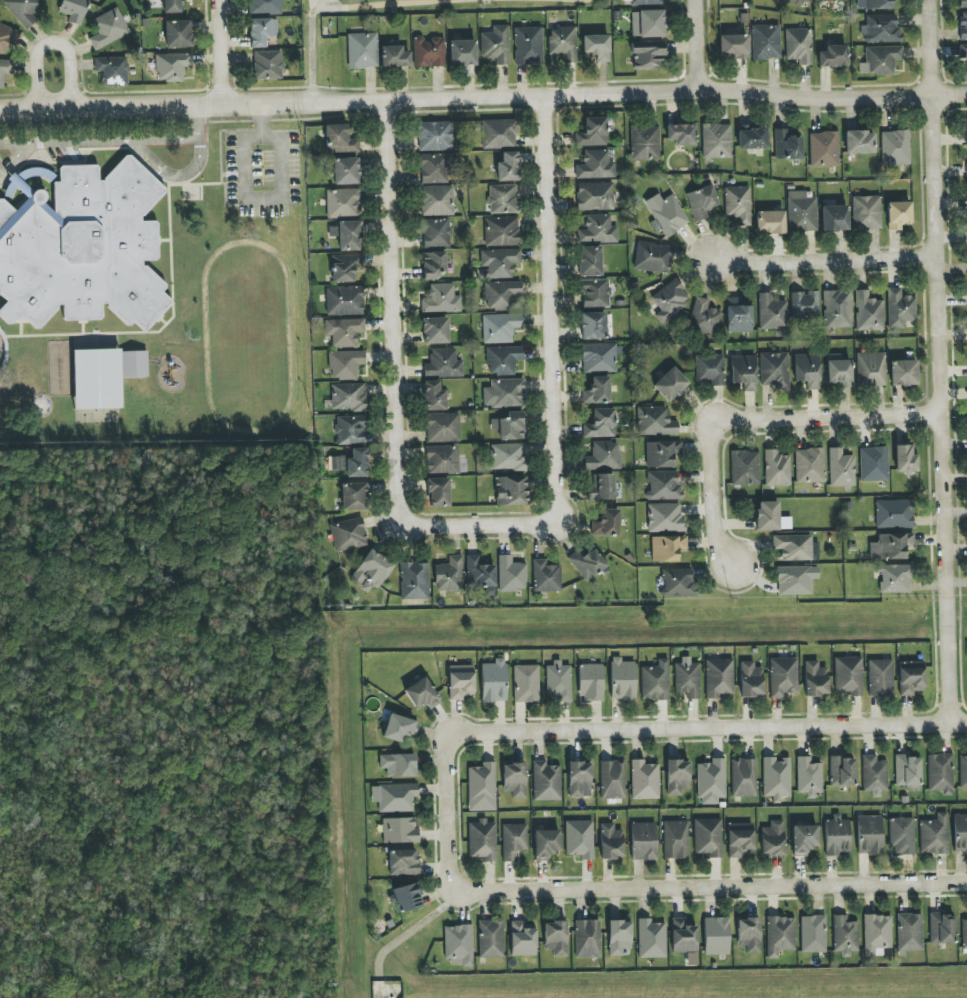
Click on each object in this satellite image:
road: (576, 0)
building: (646, 2)
building: (796, 2)
road: (405, 3)
building: (878, 4)
building: (962, 4)
building: (171, 6)
building: (265, 6)
road: (328, 8)
building: (23, 10)
building: (73, 10)
building: (648, 24)
building: (963, 25)
building: (109, 29)
building: (881, 29)
building: (261, 31)
building: (178, 34)
building: (8, 37)
road: (48, 41)
building: (766, 42)
building: (563, 43)
building: (496, 45)
road: (695, 45)
building: (528, 46)
building: (733, 46)
building: (798, 46)
building: (597, 47)
road: (218, 50)
building: (362, 50)
building: (428, 52)
building: (963, 52)
building: (462, 53)
building: (647, 56)
building: (833, 56)
building: (394, 57)
building: (882, 60)
building: (267, 65)
building: (172, 66)
building: (5, 70)
building: (112, 71)
road: (483, 97)
building: (966, 131)
building: (592, 132)
building: (498, 134)
building: (681, 134)
building: (434, 136)
building: (752, 137)
building: (339, 140)
road: (100, 141)
building: (716, 141)
building: (859, 142)
building: (644, 143)
building: (787, 145)
building: (895, 148)
building: (824, 149)
road: (14, 159)
building: (595, 165)
building: (507, 167)
building: (435, 169)
building: (966, 170)
road: (192, 171)
building: (345, 171)
building: (966, 189)
building: (593, 196)
road: (242, 197)
building: (502, 199)
building: (436, 201)
building: (701, 202)
building: (343, 203)
building: (738, 204)
building: (801, 212)
building: (866, 213)
building: (666, 214)
building: (898, 215)
building: (834, 218)
building: (770, 222)
building: (597, 230)
building: (501, 231)
building: (436, 233)
building: (347, 235)
building: (81, 248)
building: (653, 257)
road: (824, 260)
building: (589, 261)
building: (500, 262)
building: (433, 265)
building: (345, 267)
building: (595, 293)
road: (391, 295)
building: (501, 295)
building: (441, 299)
building: (344, 301)
building: (668, 301)
building: (804, 304)
road: (551, 305)
building: (837, 309)
building: (900, 309)
building: (771, 312)
building: (868, 312)
building: (738, 316)
building: (703, 319)
building: (593, 326)
building: (500, 328)
building: (435, 331)
building: (344, 332)
building: (600, 357)
building: (503, 360)
road: (938, 362)
building: (133, 364)
building: (345, 364)
building: (443, 364)
building: (709, 369)
building: (871, 369)
building: (774, 370)
building: (807, 370)
building: (839, 371)
building: (744, 372)
building: (903, 373)
building: (96, 379)
building: (670, 384)
building: (597, 391)
building: (504, 393)
building: (433, 396)
building: (348, 397)
road: (856, 419)
building: (655, 422)
building: (600, 424)
building: (509, 426)
building: (443, 427)
building: (350, 430)
building: (662, 454)
building: (603, 456)
building: (508, 457)
building: (442, 460)
building: (905, 460)
building: (350, 464)
building: (874, 464)
building: (809, 466)
road: (710, 467)
building: (745, 468)
building: (776, 468)
building: (841, 468)
building: (663, 485)
building: (602, 487)
building: (510, 491)
building: (438, 493)
building: (354, 496)
building: (894, 514)
building: (767, 516)
building: (665, 517)
building: (606, 523)
road: (464, 527)
building: (348, 534)
building: (891, 546)
building: (793, 547)
building: (667, 548)
building: (587, 565)
building: (370, 572)
building: (511, 574)
building: (448, 575)
building: (480, 575)
building: (545, 577)
building: (895, 578)
building: (796, 580)
building: (414, 581)
building: (677, 582)
building: (783, 676)
building: (847, 676)
building: (718, 678)
building: (880, 678)
building: (622, 679)
building: (815, 679)
building: (911, 679)
building: (687, 680)
building: (751, 680)
building: (494, 681)
building: (655, 681)
building: (460, 682)
building: (557, 682)
building: (590, 682)
building: (526, 684)
building: (422, 694)
building: (399, 728)
road: (706, 729)
building: (398, 765)
building: (963, 771)
building: (842, 772)
building: (908, 772)
building: (940, 773)
building: (874, 774)
building: (808, 776)
building: (677, 777)
building: (743, 777)
building: (579, 778)
building: (612, 779)
building: (776, 779)
building: (514, 780)
building: (644, 780)
building: (546, 782)
building: (711, 782)
building: (481, 788)
building: (396, 798)
road: (450, 813)
building: (399, 830)
building: (960, 833)
building: (869, 835)
building: (933, 835)
building: (837, 836)
building: (902, 836)
building: (708, 837)
building: (579, 839)
building: (740, 839)
building: (773, 839)
building: (804, 839)
building: (482, 840)
building: (513, 840)
building: (676, 840)
building: (644, 841)
building: (611, 842)
building: (546, 844)
building: (403, 862)
road: (710, 889)
building: (406, 897)
building: (941, 929)
road: (410, 931)
building: (909, 933)
building: (749, 934)
building: (813, 934)
building: (876, 934)
building: (964, 934)
building: (780, 935)
building: (844, 935)
building: (716, 936)
building: (683, 937)
building: (555, 938)
building: (619, 938)
building: (490, 939)
building: (522, 939)
building: (587, 939)
building: (651, 939)
building: (458, 945)

